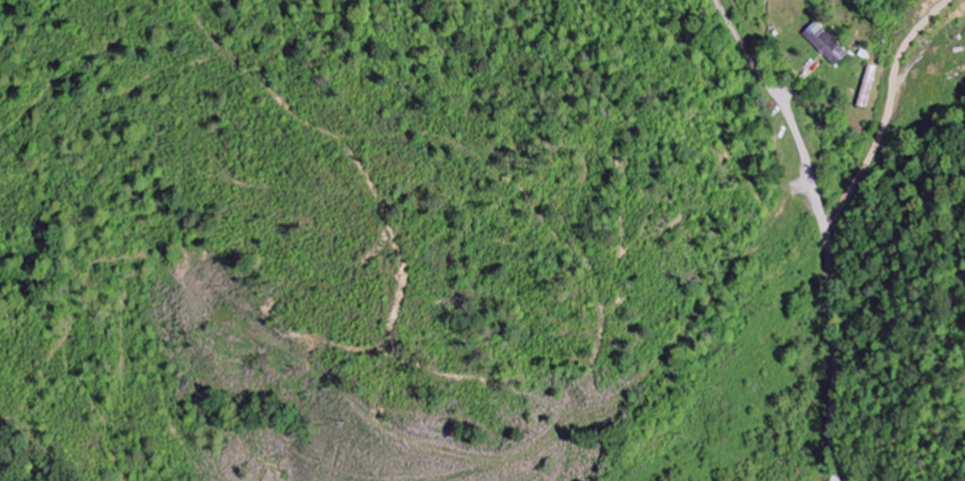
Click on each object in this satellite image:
building: (825, 43)

